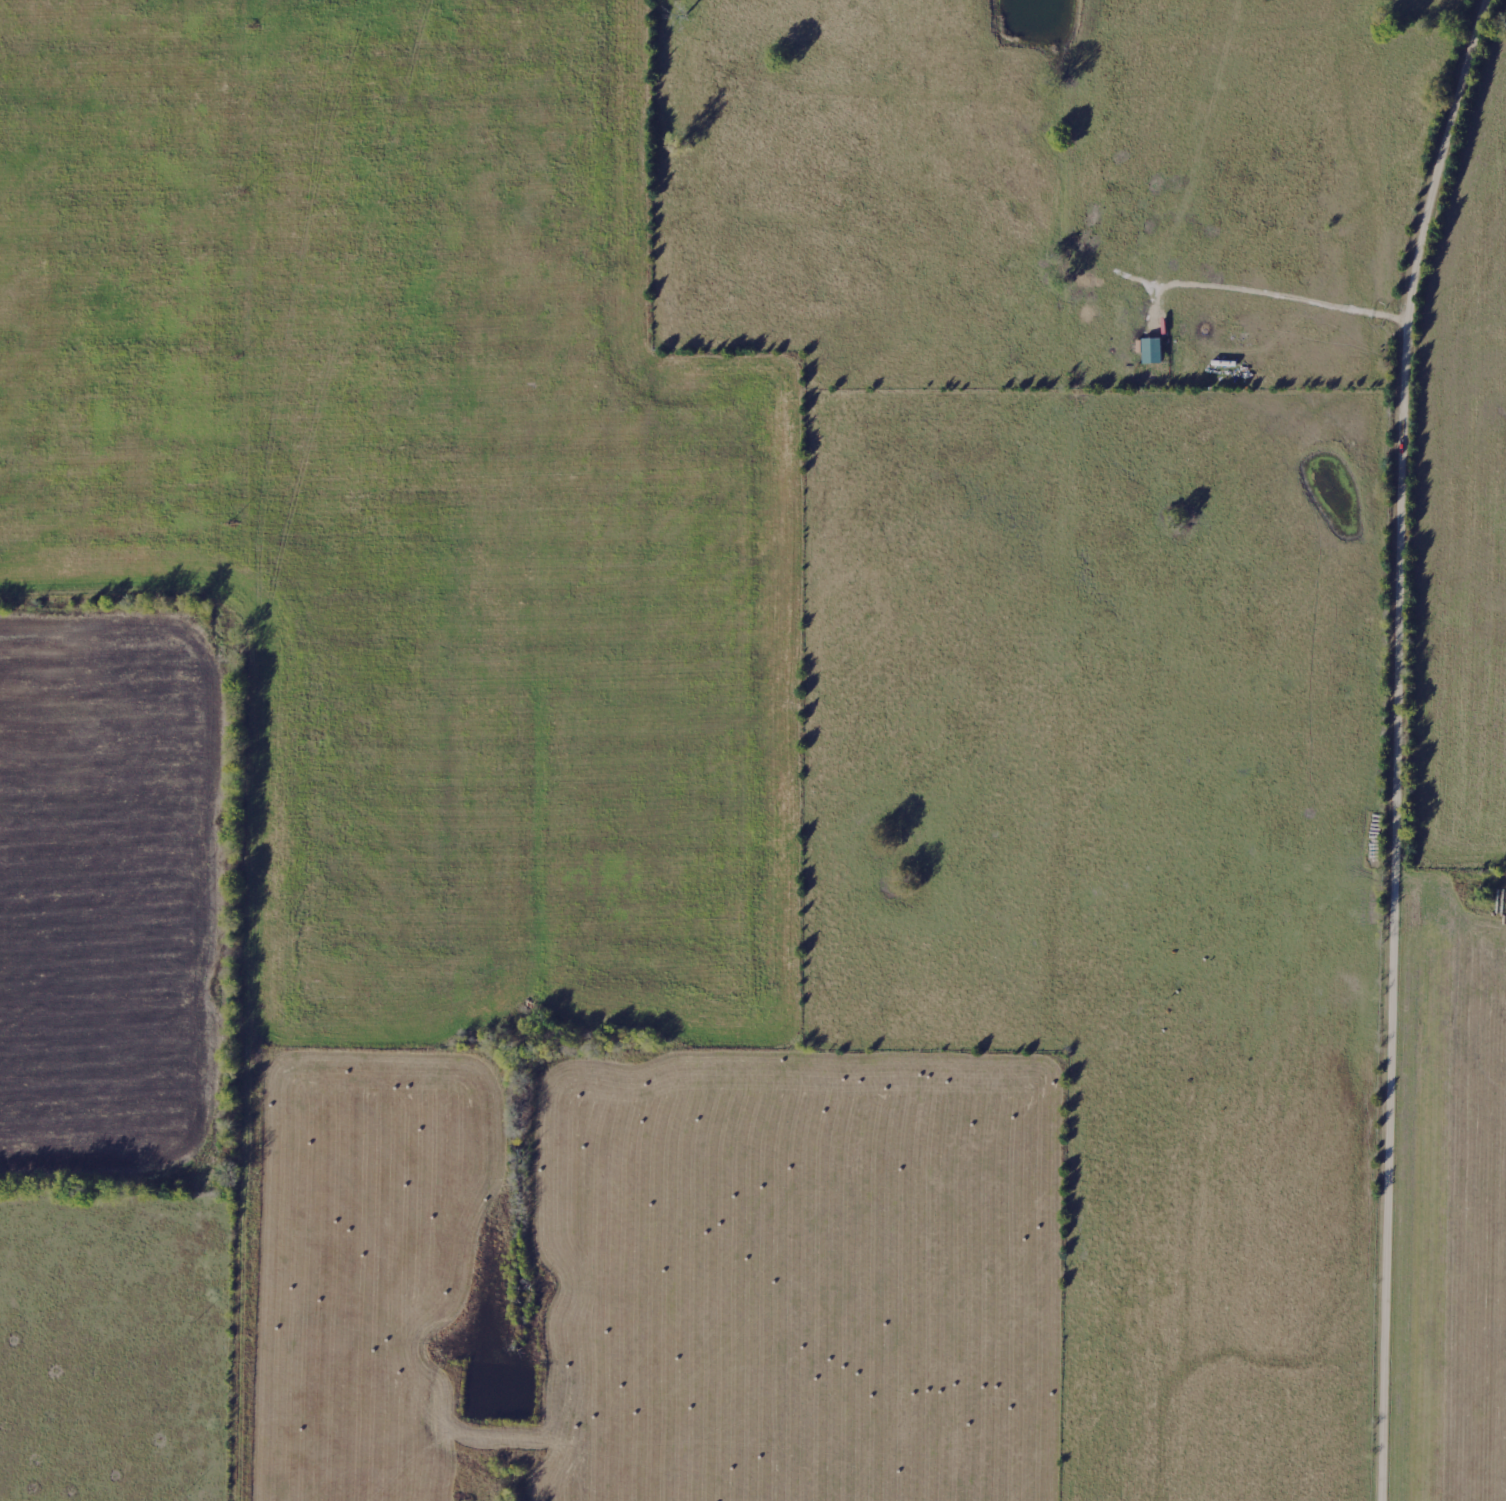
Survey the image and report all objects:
building: (1152, 351)
road: (1404, 745)
road: (256, 930)

